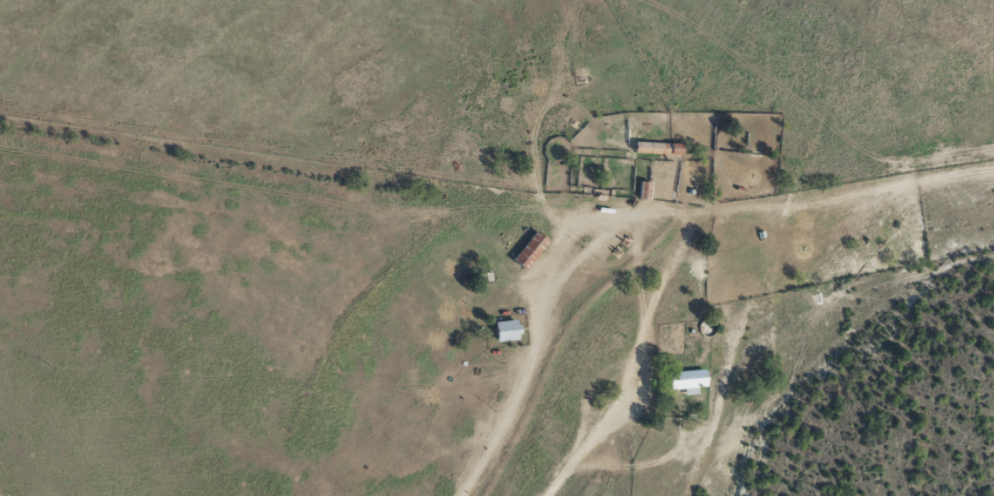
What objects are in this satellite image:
building: (667, 145)
road: (656, 224)
building: (527, 247)
building: (503, 328)
road: (655, 366)
building: (684, 378)

